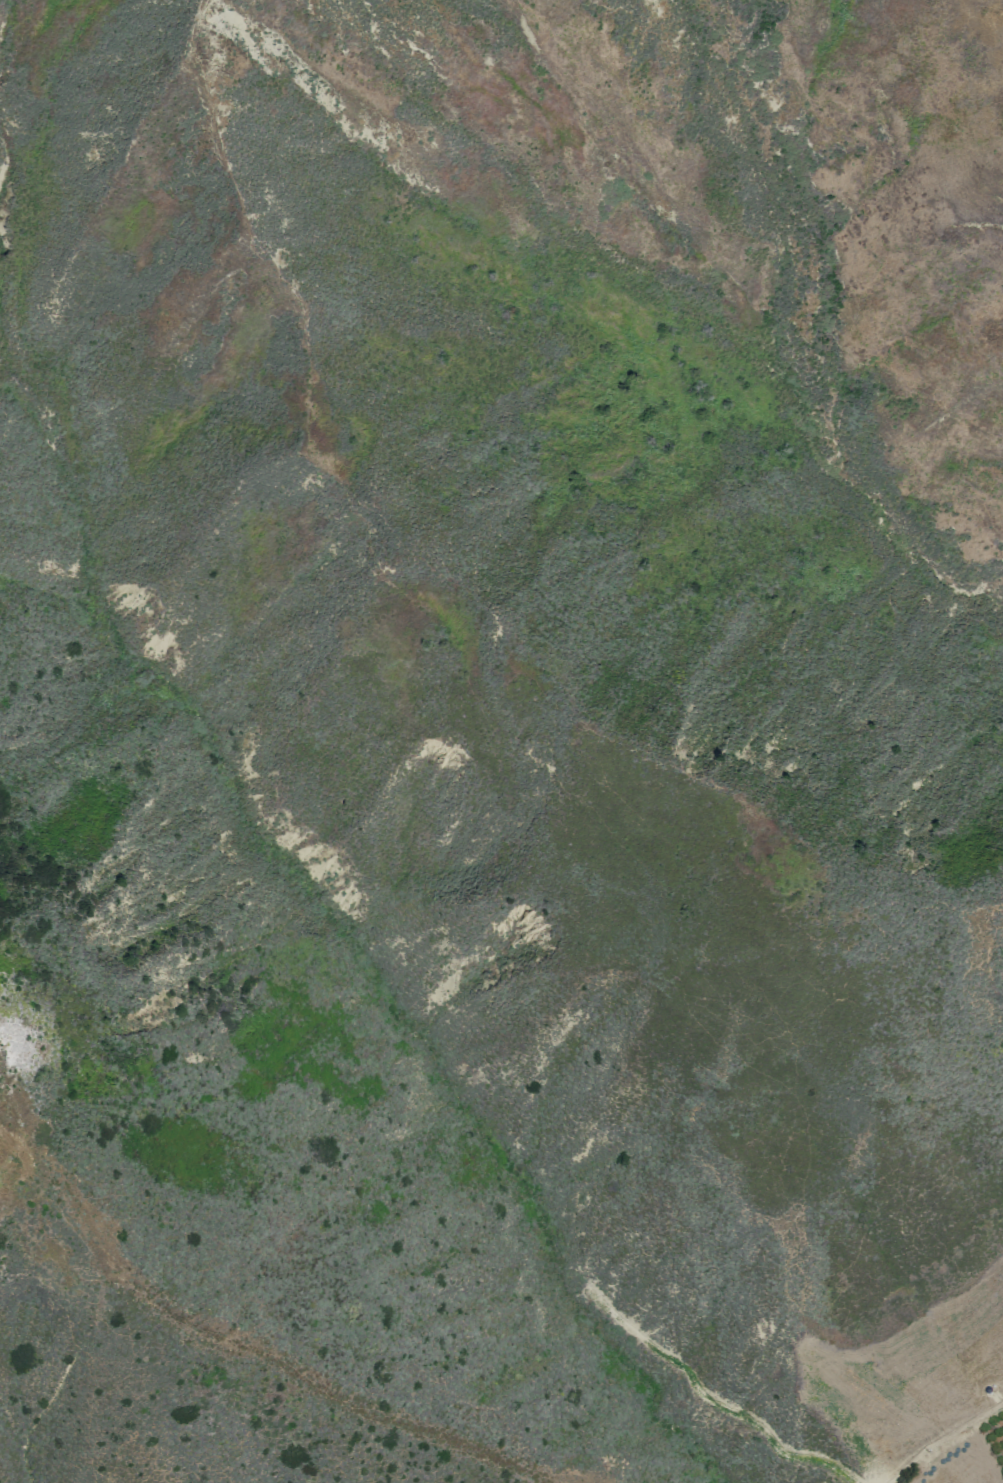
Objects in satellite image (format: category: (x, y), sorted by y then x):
road: (941, 1436)
road: (844, 1475)

